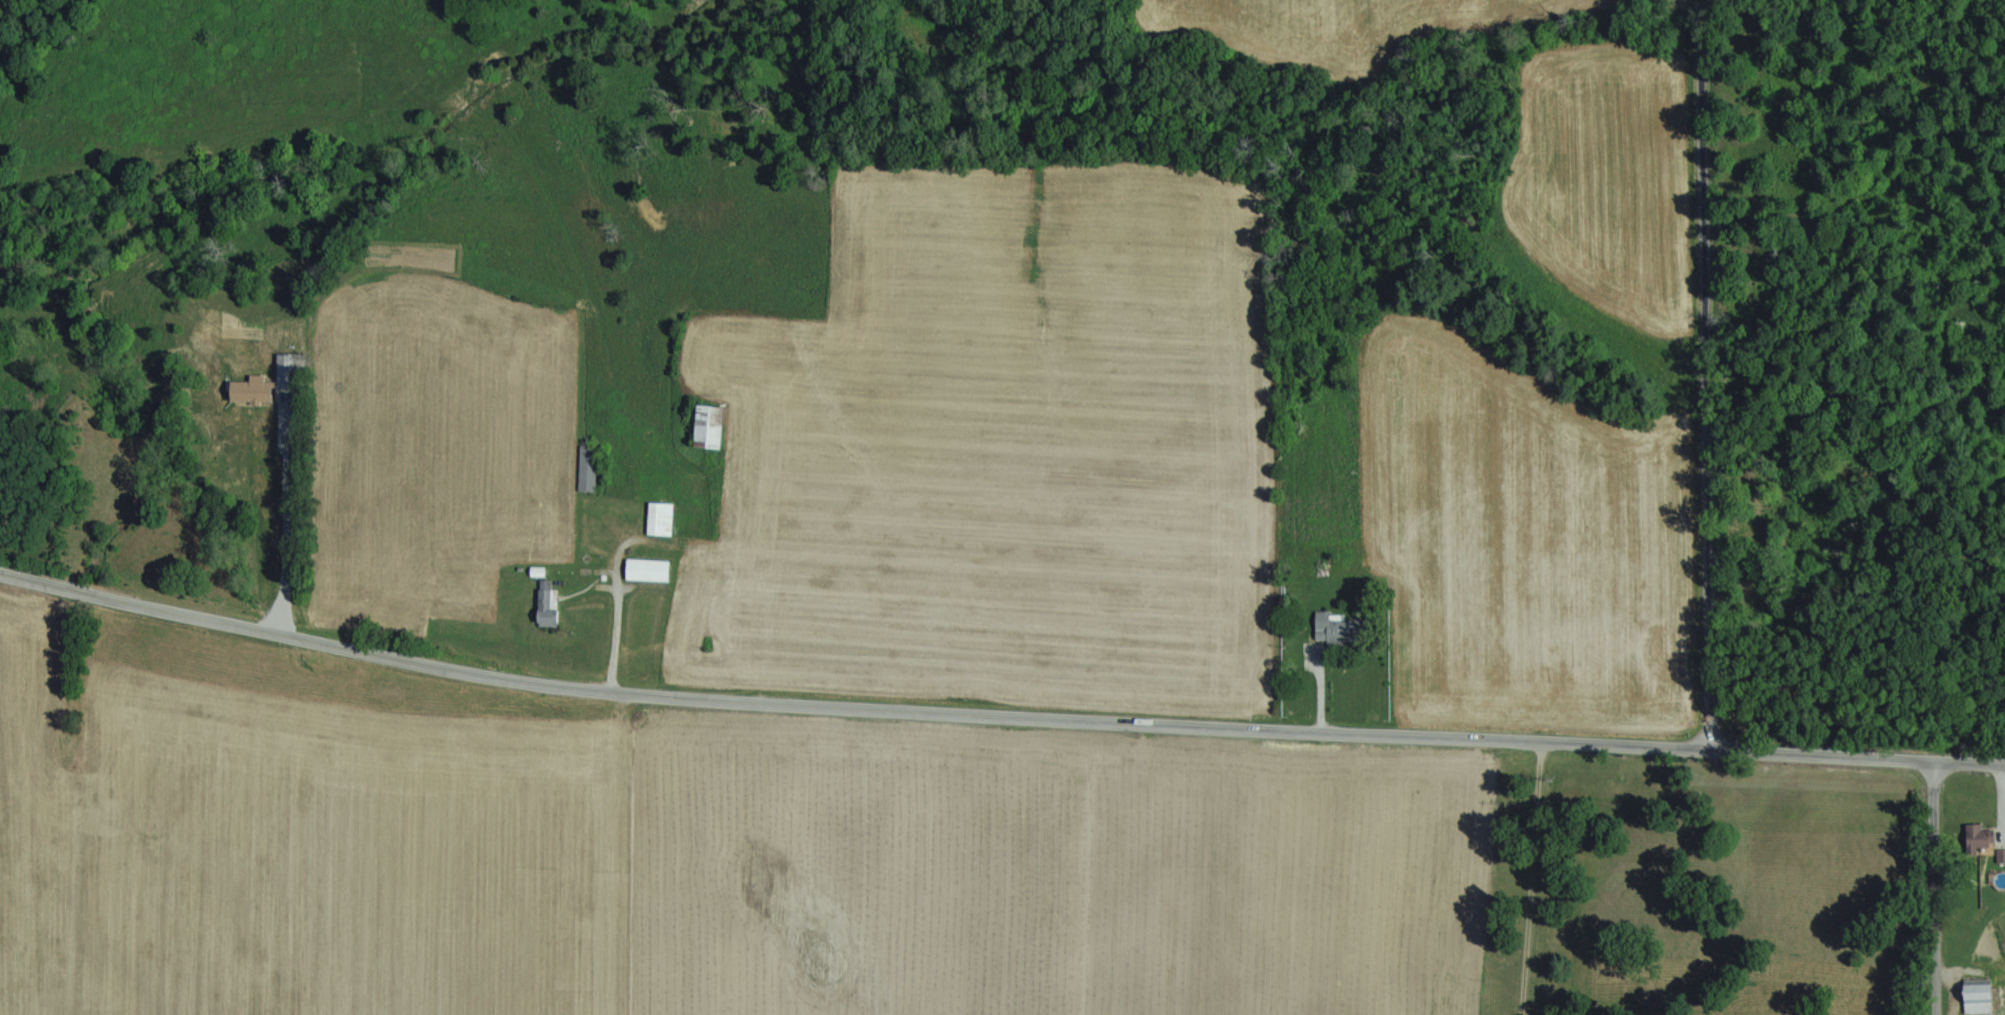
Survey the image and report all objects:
road: (1708, 375)
building: (709, 427)
building: (586, 472)
building: (659, 519)
building: (547, 605)
road: (624, 626)
building: (1331, 629)
road: (996, 716)
building: (1978, 838)
building: (2000, 856)
road: (1531, 877)
road: (1936, 888)
building: (1978, 997)

